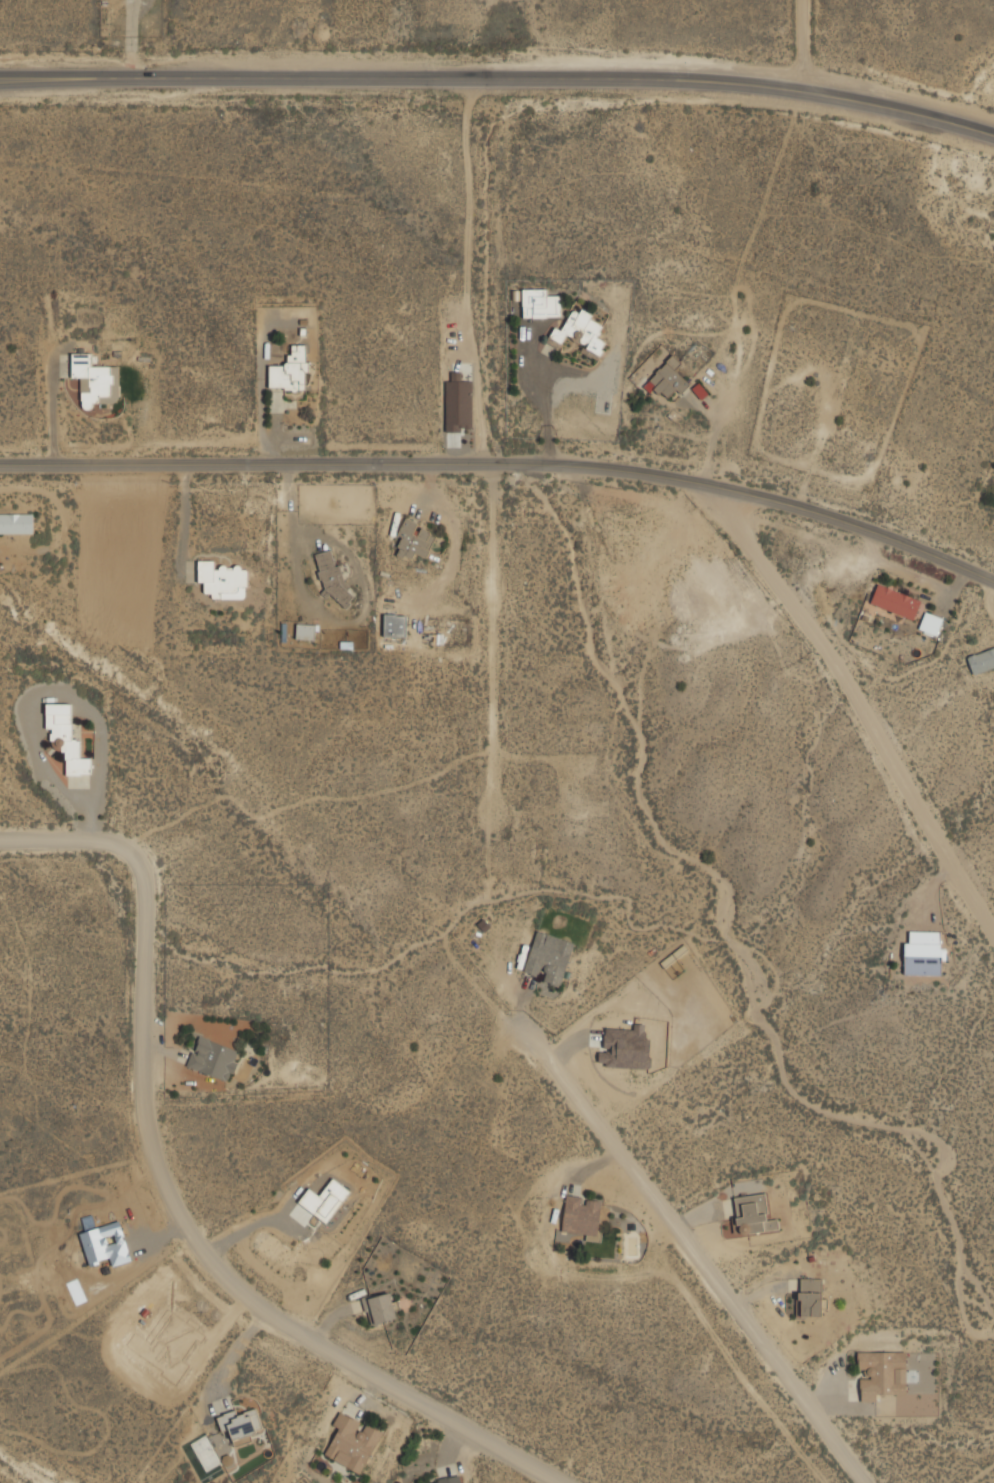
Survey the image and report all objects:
road: (801, 45)
road: (500, 77)
road: (488, 270)
building: (540, 303)
building: (582, 331)
building: (291, 370)
building: (669, 379)
building: (96, 380)
building: (458, 403)
road: (506, 463)
building: (16, 522)
building: (416, 539)
building: (223, 578)
building: (332, 578)
building: (895, 601)
building: (931, 623)
building: (395, 625)
building: (306, 631)
road: (491, 636)
building: (981, 660)
road: (852, 703)
building: (67, 738)
road: (298, 802)
road: (446, 927)
building: (923, 952)
building: (548, 958)
building: (213, 1057)
building: (324, 1200)
road: (173, 1203)
building: (753, 1214)
building: (582, 1216)
road: (693, 1255)
building: (810, 1296)
building: (380, 1307)
building: (882, 1373)
building: (241, 1424)
building: (353, 1441)
building: (449, 1480)

